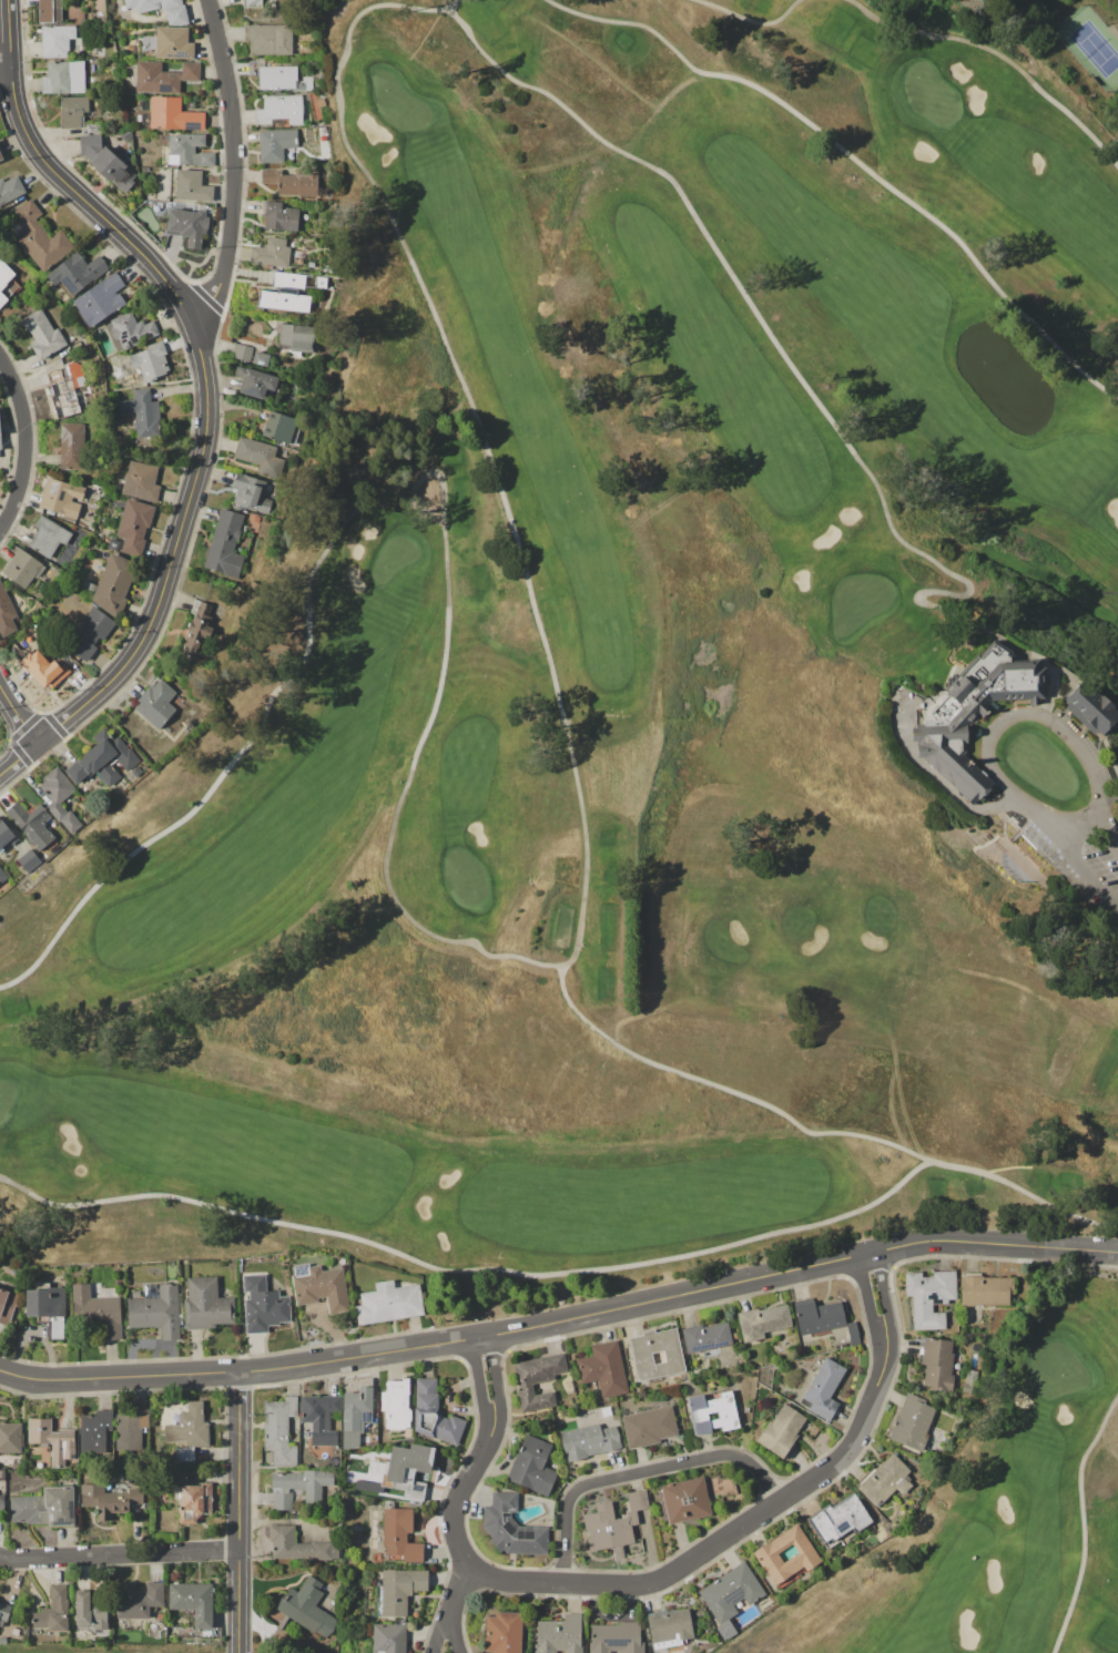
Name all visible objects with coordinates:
building: (252, 3)
building: (162, 9)
building: (50, 11)
building: (102, 19)
building: (268, 39)
building: (55, 40)
building: (170, 43)
road: (4, 65)
building: (163, 76)
building: (278, 78)
building: (59, 79)
building: (316, 105)
building: (72, 111)
building: (279, 111)
building: (172, 114)
building: (125, 134)
building: (271, 145)
building: (183, 150)
building: (0, 154)
building: (105, 162)
road: (233, 165)
road: (60, 178)
building: (292, 182)
building: (191, 186)
building: (10, 190)
building: (279, 216)
building: (187, 225)
building: (39, 237)
building: (271, 253)
building: (311, 264)
building: (326, 268)
building: (75, 272)
building: (4, 274)
building: (321, 282)
building: (12, 285)
building: (6, 292)
building: (285, 293)
building: (2, 299)
building: (100, 299)
building: (314, 303)
building: (130, 330)
building: (42, 334)
building: (296, 337)
building: (243, 351)
building: (261, 358)
building: (151, 361)
building: (255, 381)
building: (64, 389)
building: (142, 412)
building: (281, 427)
road: (23, 443)
building: (0, 446)
building: (71, 446)
building: (0, 456)
building: (258, 456)
building: (141, 481)
building: (250, 492)
building: (60, 498)
building: (134, 526)
building: (48, 537)
building: (113, 543)
building: (224, 544)
road: (172, 553)
building: (21, 569)
building: (45, 573)
building: (114, 583)
building: (87, 586)
building: (253, 586)
building: (7, 613)
building: (196, 630)
building: (89, 633)
building: (41, 669)
park: (636, 688)
building: (156, 703)
building: (1090, 708)
building: (974, 712)
road: (1029, 714)
road: (18, 715)
road: (18, 758)
building: (104, 762)
building: (135, 771)
building: (60, 798)
building: (31, 823)
road: (1109, 827)
building: (6, 835)
building: (42, 856)
building: (28, 859)
road: (1089, 871)
building: (2, 876)
road: (775, 1273)
building: (321, 1287)
road: (882, 1289)
building: (986, 1289)
road: (864, 1295)
building: (929, 1296)
building: (388, 1303)
building: (205, 1304)
building: (7, 1305)
building: (263, 1305)
building: (48, 1307)
building: (154, 1309)
building: (95, 1312)
building: (823, 1319)
building: (762, 1320)
building: (707, 1338)
building: (840, 1345)
building: (657, 1354)
building: (976, 1361)
building: (936, 1364)
building: (603, 1368)
road: (218, 1373)
road: (496, 1379)
building: (538, 1380)
building: (970, 1380)
road: (478, 1382)
building: (823, 1389)
building: (396, 1405)
building: (745, 1409)
building: (712, 1412)
building: (434, 1415)
building: (355, 1416)
building: (319, 1418)
building: (912, 1424)
building: (187, 1426)
building: (649, 1426)
building: (39, 1430)
building: (129, 1430)
building: (278, 1430)
building: (93, 1431)
building: (781, 1431)
road: (856, 1431)
building: (541, 1433)
building: (10, 1437)
building: (372, 1437)
building: (589, 1439)
building: (61, 1446)
building: (375, 1452)
building: (184, 1455)
building: (16, 1465)
building: (357, 1465)
building: (532, 1466)
building: (406, 1469)
road: (638, 1471)
building: (2, 1473)
building: (123, 1478)
building: (173, 1479)
building: (884, 1479)
building: (298, 1487)
building: (367, 1487)
building: (134, 1496)
building: (160, 1496)
building: (206, 1497)
building: (693, 1497)
building: (105, 1502)
building: (190, 1503)
building: (1, 1504)
building: (388, 1504)
building: (44, 1507)
park: (998, 1510)
road: (237, 1512)
building: (840, 1521)
road: (454, 1523)
building: (616, 1527)
building: (356, 1528)
building: (511, 1528)
building: (399, 1535)
building: (297, 1545)
road: (118, 1554)
building: (375, 1557)
building: (786, 1558)
building: (334, 1565)
road: (636, 1585)
building: (398, 1590)
building: (729, 1596)
building: (138, 1600)
building: (192, 1601)
building: (307, 1608)
building: (82, 1609)
building: (52, 1610)
building: (3, 1612)
building: (98, 1615)
building: (746, 1615)
building: (159, 1616)
building: (191, 1618)
road: (446, 1624)
building: (669, 1625)
building: (502, 1633)
building: (558, 1635)
building: (616, 1637)
building: (388, 1639)
building: (2, 1641)

